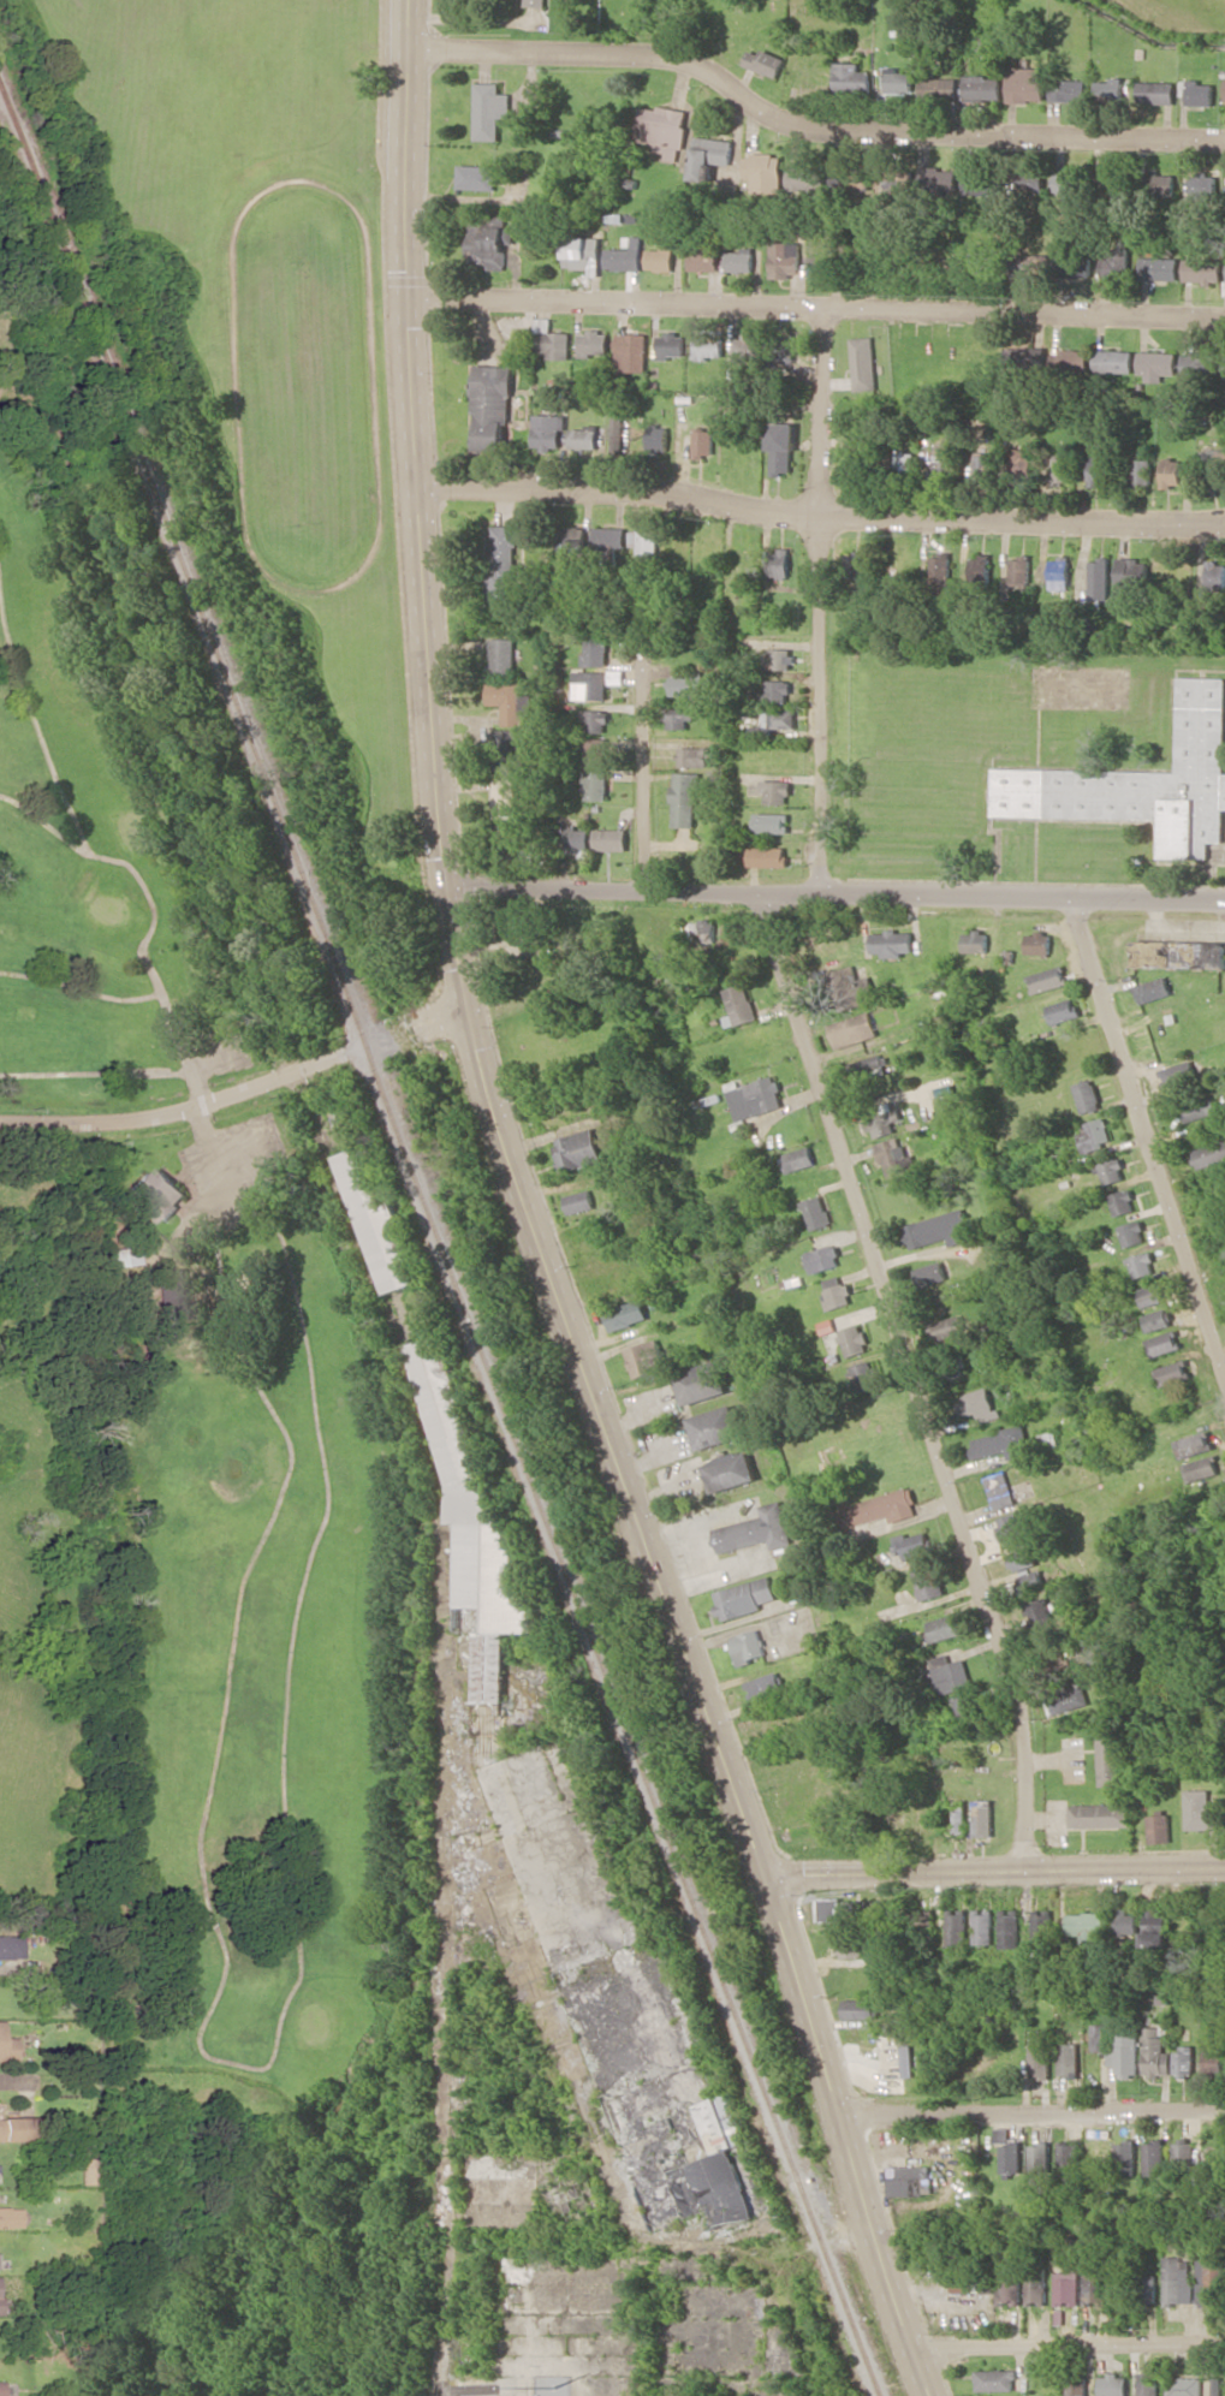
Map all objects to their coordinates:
building: (536, 2)
building: (765, 61)
building: (851, 77)
building: (894, 81)
building: (1027, 83)
building: (938, 87)
building: (982, 88)
building: (1069, 89)
building: (1111, 90)
building: (1156, 91)
building: (1200, 93)
building: (1224, 99)
building: (489, 109)
road: (807, 125)
building: (664, 129)
building: (712, 155)
building: (767, 171)
building: (476, 177)
building: (807, 179)
building: (1030, 179)
building: (1107, 179)
building: (935, 182)
building: (977, 182)
building: (1199, 182)
building: (1069, 183)
building: (1161, 184)
building: (489, 239)
building: (584, 254)
building: (626, 256)
building: (706, 256)
building: (662, 258)
building: (787, 258)
building: (743, 260)
building: (822, 263)
building: (1033, 263)
building: (1074, 264)
building: (1111, 264)
building: (1159, 268)
building: (1202, 269)
road: (815, 309)
building: (553, 341)
building: (595, 344)
building: (784, 344)
building: (672, 345)
building: (710, 346)
building: (750, 349)
building: (634, 352)
building: (1033, 358)
building: (1071, 361)
building: (1113, 361)
building: (864, 363)
building: (1156, 364)
building: (1200, 365)
building: (494, 404)
building: (551, 432)
building: (620, 434)
building: (587, 436)
building: (660, 438)
building: (706, 442)
road: (415, 444)
building: (784, 447)
building: (945, 458)
building: (903, 460)
building: (1022, 460)
building: (1213, 463)
building: (983, 465)
building: (1100, 469)
building: (1143, 470)
building: (1063, 471)
building: (1172, 471)
road: (820, 519)
building: (573, 537)
building: (612, 540)
building: (646, 540)
railway: (179, 558)
building: (780, 563)
building: (505, 564)
building: (857, 565)
building: (1022, 570)
building: (1060, 571)
building: (981, 573)
building: (941, 575)
building: (1217, 575)
building: (1134, 576)
building: (1100, 578)
road: (820, 600)
building: (596, 650)
building: (505, 656)
building: (783, 658)
building: (590, 684)
building: (688, 684)
building: (778, 690)
building: (512, 701)
building: (678, 718)
building: (779, 718)
building: (595, 720)
building: (510, 751)
building: (595, 751)
building: (694, 756)
road: (647, 767)
building: (1142, 781)
building: (596, 784)
building: (777, 791)
building: (504, 797)
building: (685, 798)
building: (772, 822)
building: (577, 837)
building: (611, 839)
building: (513, 842)
building: (768, 856)
road: (833, 892)
building: (704, 931)
building: (976, 941)
building: (892, 943)
building: (1039, 943)
building: (1181, 953)
building: (1049, 979)
building: (852, 987)
building: (1154, 989)
building: (741, 1005)
building: (1063, 1010)
building: (857, 1033)
building: (870, 1066)
building: (1181, 1072)
building: (1089, 1095)
building: (756, 1098)
building: (1200, 1104)
road: (153, 1111)
building: (876, 1122)
building: (1095, 1134)
road: (1152, 1134)
building: (577, 1149)
building: (896, 1157)
building: (801, 1158)
building: (1113, 1170)
building: (156, 1195)
building: (578, 1201)
building: (1123, 1202)
building: (817, 1212)
building: (379, 1220)
building: (939, 1229)
building: (1132, 1232)
building: (823, 1258)
building: (1142, 1265)
building: (932, 1273)
building: (837, 1291)
building: (173, 1292)
building: (1150, 1295)
building: (626, 1314)
building: (1159, 1319)
building: (951, 1326)
building: (855, 1339)
building: (1164, 1343)
building: (646, 1357)
building: (1172, 1373)
building: (866, 1375)
road: (914, 1378)
building: (701, 1381)
building: (980, 1404)
building: (448, 1411)
building: (715, 1427)
building: (1047, 1440)
building: (1003, 1443)
building: (1195, 1444)
building: (1205, 1467)
building: (730, 1470)
building: (1000, 1490)
building: (884, 1508)
building: (756, 1529)
building: (1011, 1529)
building: (914, 1545)
building: (1022, 1556)
building: (1030, 1581)
building: (928, 1582)
building: (742, 1598)
building: (1040, 1615)
building: (944, 1628)
road: (680, 1642)
building: (747, 1646)
building: (1052, 1653)
building: (949, 1673)
building: (763, 1684)
building: (1069, 1698)
railway: (619, 1708)
building: (964, 1708)
building: (1107, 1754)
building: (1202, 1811)
building: (1100, 1815)
building: (981, 1818)
building: (958, 1819)
road: (73, 1821)
building: (1160, 1827)
road: (992, 1872)
building: (836, 1909)
building: (917, 1919)
building: (1042, 1921)
building: (1129, 1921)
building: (1087, 1924)
building: (983, 1926)
building: (957, 1927)
building: (1010, 1927)
building: (848, 1945)
building: (10, 1946)
building: (857, 2008)
building: (6, 2047)
building: (1118, 2050)
building: (1039, 2053)
building: (1155, 2053)
building: (1214, 2056)
building: (1069, 2059)
building: (905, 2061)
building: (1184, 2061)
road: (1030, 2119)
building: (16, 2129)
building: (1009, 2152)
building: (1185, 2153)
building: (1040, 2157)
building: (1156, 2157)
building: (1126, 2158)
building: (1069, 2159)
building: (83, 2170)
building: (910, 2181)
road: (442, 2182)
building: (8, 2217)
building: (967, 2279)
building: (1181, 2279)
building: (1211, 2282)
building: (1036, 2283)
building: (1068, 2287)
building: (1096, 2287)
building: (1010, 2288)
building: (1144, 2288)
road: (1069, 2347)
building: (995, 2379)
building: (1149, 2384)
building: (1113, 2385)
building: (1076, 2386)
building: (1183, 2386)
building: (0, 2388)

